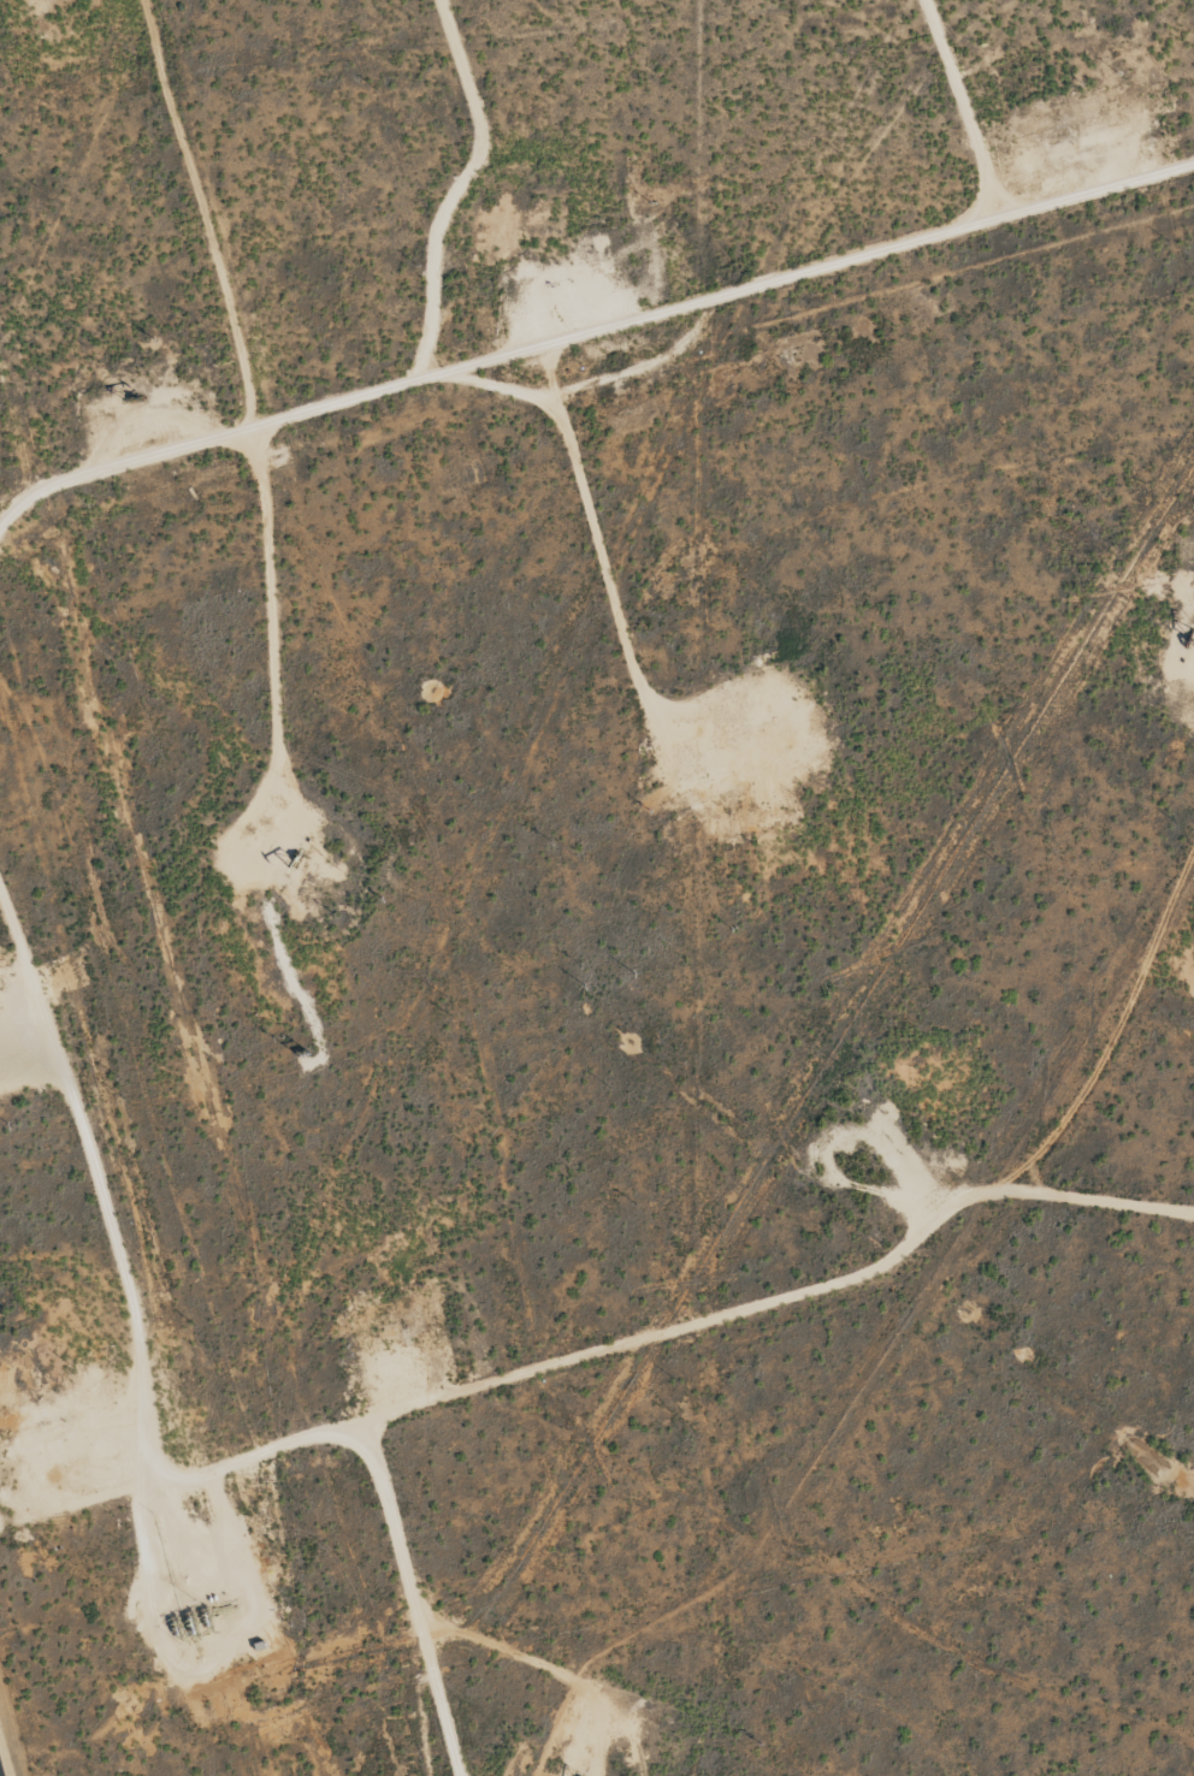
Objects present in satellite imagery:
road: (601, 380)
road: (187, 1476)
road: (420, 1600)

